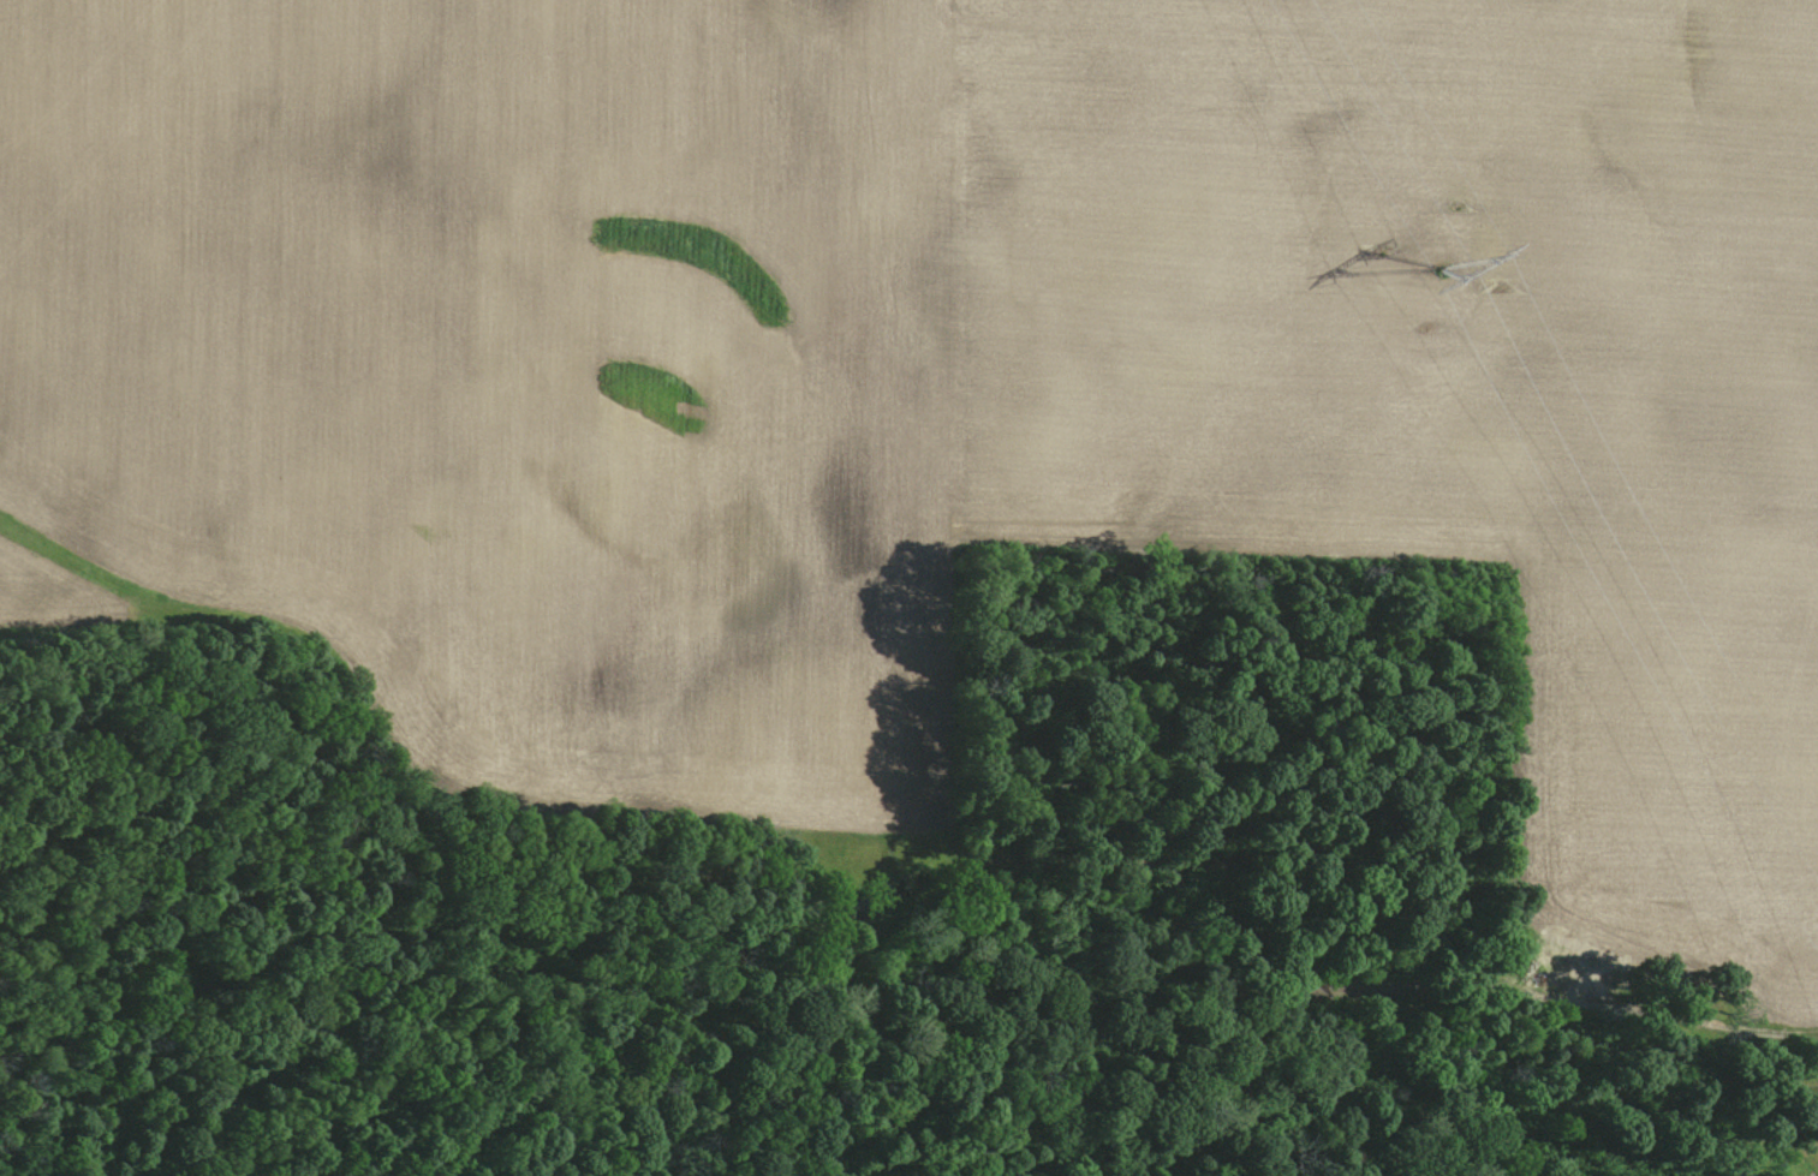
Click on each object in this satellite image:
power tower: (1438, 269)
road: (1792, 1169)

